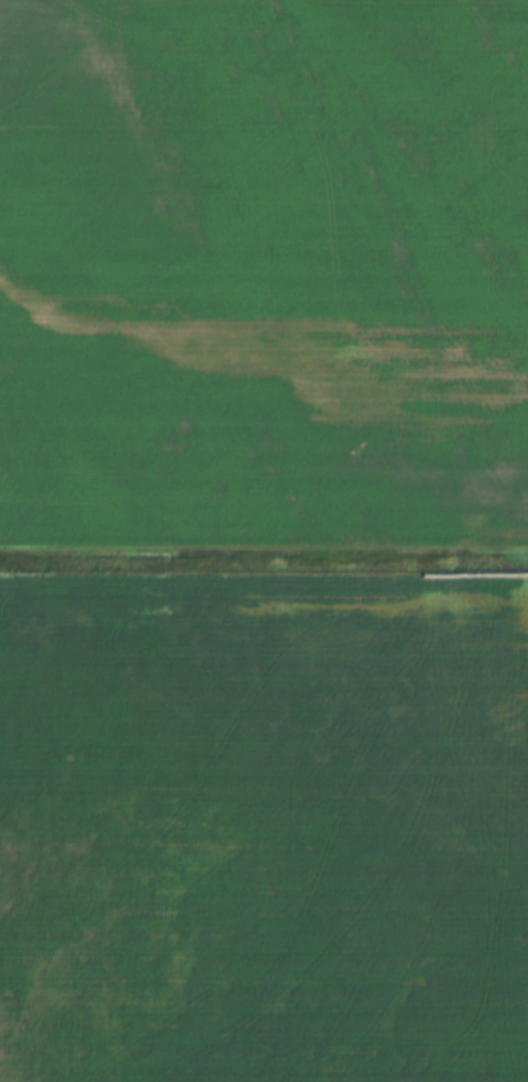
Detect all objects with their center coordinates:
road: (264, 563)

